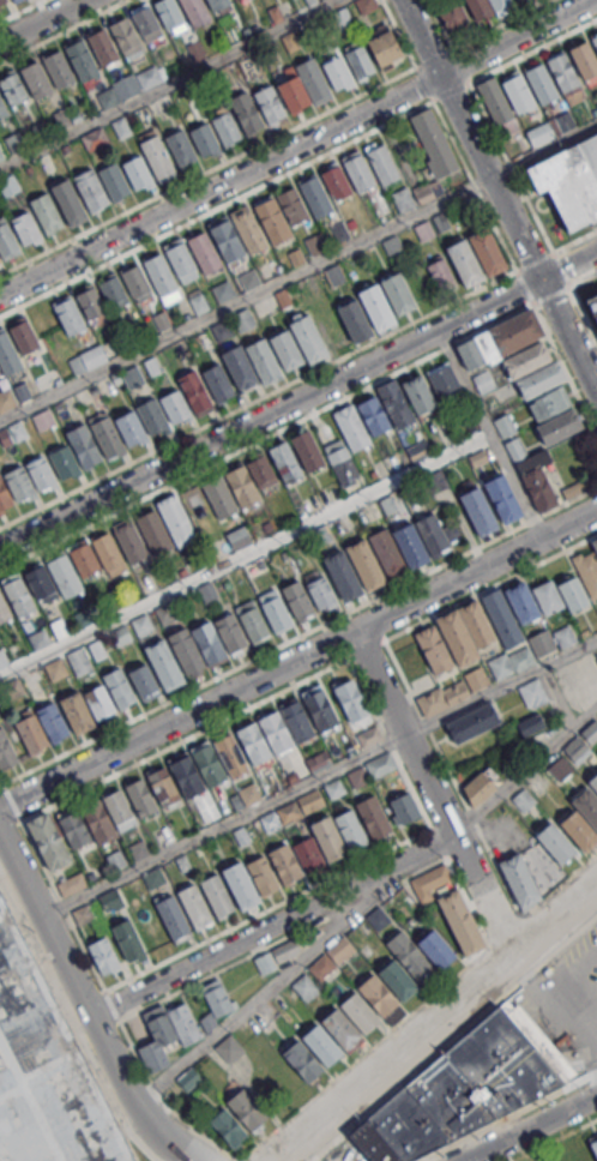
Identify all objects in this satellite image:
building: (2, 0)
building: (12, 0)
building: (235, 0)
building: (517, 0)
building: (216, 4)
building: (366, 5)
building: (500, 5)
building: (478, 8)
road: (19, 10)
building: (194, 11)
building: (168, 12)
building: (452, 14)
road: (42, 20)
road: (499, 23)
building: (146, 24)
road: (61, 30)
road: (398, 34)
building: (125, 36)
road: (515, 38)
building: (593, 38)
building: (102, 46)
building: (384, 48)
building: (194, 52)
road: (433, 56)
building: (80, 58)
building: (583, 59)
road: (514, 60)
building: (358, 61)
building: (58, 68)
building: (561, 71)
building: (337, 72)
building: (152, 76)
building: (35, 79)
building: (312, 80)
road: (167, 83)
road: (422, 83)
building: (539, 83)
building: (12, 89)
building: (293, 92)
building: (517, 94)
building: (494, 100)
building: (269, 103)
building: (163, 106)
building: (2, 109)
building: (246, 112)
building: (225, 127)
building: (550, 128)
building: (204, 138)
building: (92, 140)
building: (14, 142)
building: (433, 143)
building: (180, 148)
road: (542, 149)
building: (1, 155)
building: (156, 156)
building: (381, 163)
road: (207, 169)
road: (513, 170)
building: (137, 173)
building: (358, 173)
building: (568, 179)
building: (113, 180)
building: (336, 182)
road: (472, 185)
road: (219, 186)
building: (90, 190)
building: (427, 192)
building: (315, 197)
road: (497, 197)
building: (403, 199)
building: (68, 201)
building: (291, 205)
building: (464, 206)
road: (216, 207)
building: (44, 211)
building: (272, 221)
building: (24, 228)
building: (248, 228)
building: (423, 230)
building: (225, 239)
building: (6, 240)
road: (556, 249)
building: (487, 251)
building: (204, 252)
building: (179, 259)
building: (465, 263)
road: (567, 265)
building: (440, 272)
building: (159, 273)
road: (583, 278)
building: (135, 281)
road: (523, 287)
building: (113, 293)
building: (397, 293)
road: (550, 294)
road: (243, 297)
building: (593, 305)
building: (91, 306)
building: (376, 307)
building: (67, 313)
building: (355, 318)
building: (243, 319)
building: (23, 336)
building: (308, 338)
building: (499, 339)
building: (285, 348)
building: (7, 355)
building: (86, 359)
building: (526, 359)
building: (264, 361)
building: (240, 368)
road: (563, 369)
building: (539, 379)
building: (482, 380)
building: (217, 381)
building: (444, 383)
building: (195, 393)
building: (418, 393)
road: (259, 397)
building: (6, 399)
building: (394, 403)
building: (549, 403)
building: (174, 405)
road: (270, 414)
building: (152, 415)
building: (373, 415)
building: (43, 419)
building: (503, 425)
building: (559, 425)
building: (350, 426)
building: (129, 427)
building: (12, 433)
road: (490, 433)
road: (265, 435)
building: (105, 437)
building: (83, 445)
building: (515, 447)
building: (306, 450)
building: (417, 450)
building: (477, 457)
building: (532, 459)
building: (284, 461)
building: (64, 462)
building: (340, 462)
building: (261, 469)
building: (40, 471)
building: (18, 482)
building: (241, 485)
building: (574, 487)
building: (538, 488)
building: (4, 495)
building: (219, 495)
building: (502, 498)
building: (192, 501)
building: (387, 504)
building: (478, 511)
building: (175, 518)
building: (152, 530)
building: (435, 534)
building: (318, 535)
building: (239, 537)
building: (129, 541)
building: (595, 542)
building: (410, 545)
building: (105, 551)
building: (386, 553)
road: (245, 554)
building: (84, 559)
building: (364, 564)
building: (587, 571)
building: (343, 575)
building: (64, 576)
building: (38, 580)
building: (319, 588)
building: (206, 591)
building: (572, 592)
building: (18, 596)
building: (548, 596)
building: (297, 598)
building: (521, 601)
building: (110, 602)
building: (273, 608)
building: (4, 610)
building: (165, 613)
building: (82, 616)
building: (502, 618)
building: (251, 620)
building: (140, 622)
building: (476, 622)
building: (58, 627)
building: (230, 632)
building: (120, 634)
road: (300, 634)
building: (456, 636)
building: (565, 636)
building: (38, 637)
building: (542, 643)
building: (209, 644)
building: (433, 648)
building: (96, 649)
building: (185, 650)
building: (2, 658)
road: (298, 660)
building: (78, 661)
building: (511, 662)
building: (163, 663)
building: (55, 668)
road: (309, 675)
building: (143, 680)
building: (119, 687)
building: (11, 688)
building: (452, 691)
road: (493, 692)
building: (532, 692)
building: (351, 699)
building: (98, 700)
building: (319, 709)
building: (76, 711)
building: (297, 720)
building: (52, 721)
building: (474, 722)
building: (529, 722)
building: (30, 730)
building: (275, 730)
building: (590, 732)
building: (253, 742)
building: (577, 748)
building: (5, 750)
building: (230, 754)
building: (207, 764)
building: (559, 769)
road: (524, 771)
building: (186, 776)
road: (452, 780)
building: (593, 781)
building: (162, 786)
building: (478, 787)
building: (140, 795)
road: (432, 795)
building: (523, 799)
road: (417, 802)
building: (117, 805)
building: (586, 805)
building: (403, 808)
building: (373, 817)
building: (98, 822)
building: (74, 829)
road: (213, 829)
building: (350, 829)
building: (578, 830)
building: (327, 838)
building: (47, 840)
building: (555, 842)
building: (307, 854)
building: (284, 864)
building: (261, 874)
building: (519, 879)
building: (71, 884)
building: (240, 884)
building: (216, 895)
road: (59, 897)
building: (193, 904)
road: (267, 909)
building: (171, 918)
building: (378, 918)
building: (460, 921)
road: (270, 926)
building: (151, 932)
road: (282, 938)
building: (127, 939)
building: (435, 948)
building: (284, 950)
building: (339, 950)
road: (553, 951)
building: (102, 955)
building: (411, 957)
building: (264, 962)
road: (285, 973)
building: (397, 979)
road: (560, 981)
building: (304, 987)
road: (60, 993)
building: (376, 994)
building: (217, 1000)
road: (84, 1007)
road: (418, 1007)
building: (358, 1012)
road: (589, 1012)
road: (435, 1022)
building: (183, 1023)
building: (339, 1027)
road: (589, 1037)
building: (320, 1041)
building: (156, 1042)
building: (229, 1048)
building: (302, 1059)
building: (501, 1064)
road: (410, 1075)
road: (147, 1093)
building: (448, 1097)
road: (163, 1105)
building: (245, 1108)
road: (508, 1115)
building: (228, 1126)
building: (406, 1126)
road: (532, 1129)
road: (554, 1138)
road: (137, 1141)
building: (372, 1143)
building: (593, 1144)
building: (10, 1148)
road: (223, 1157)
road: (243, 1160)

